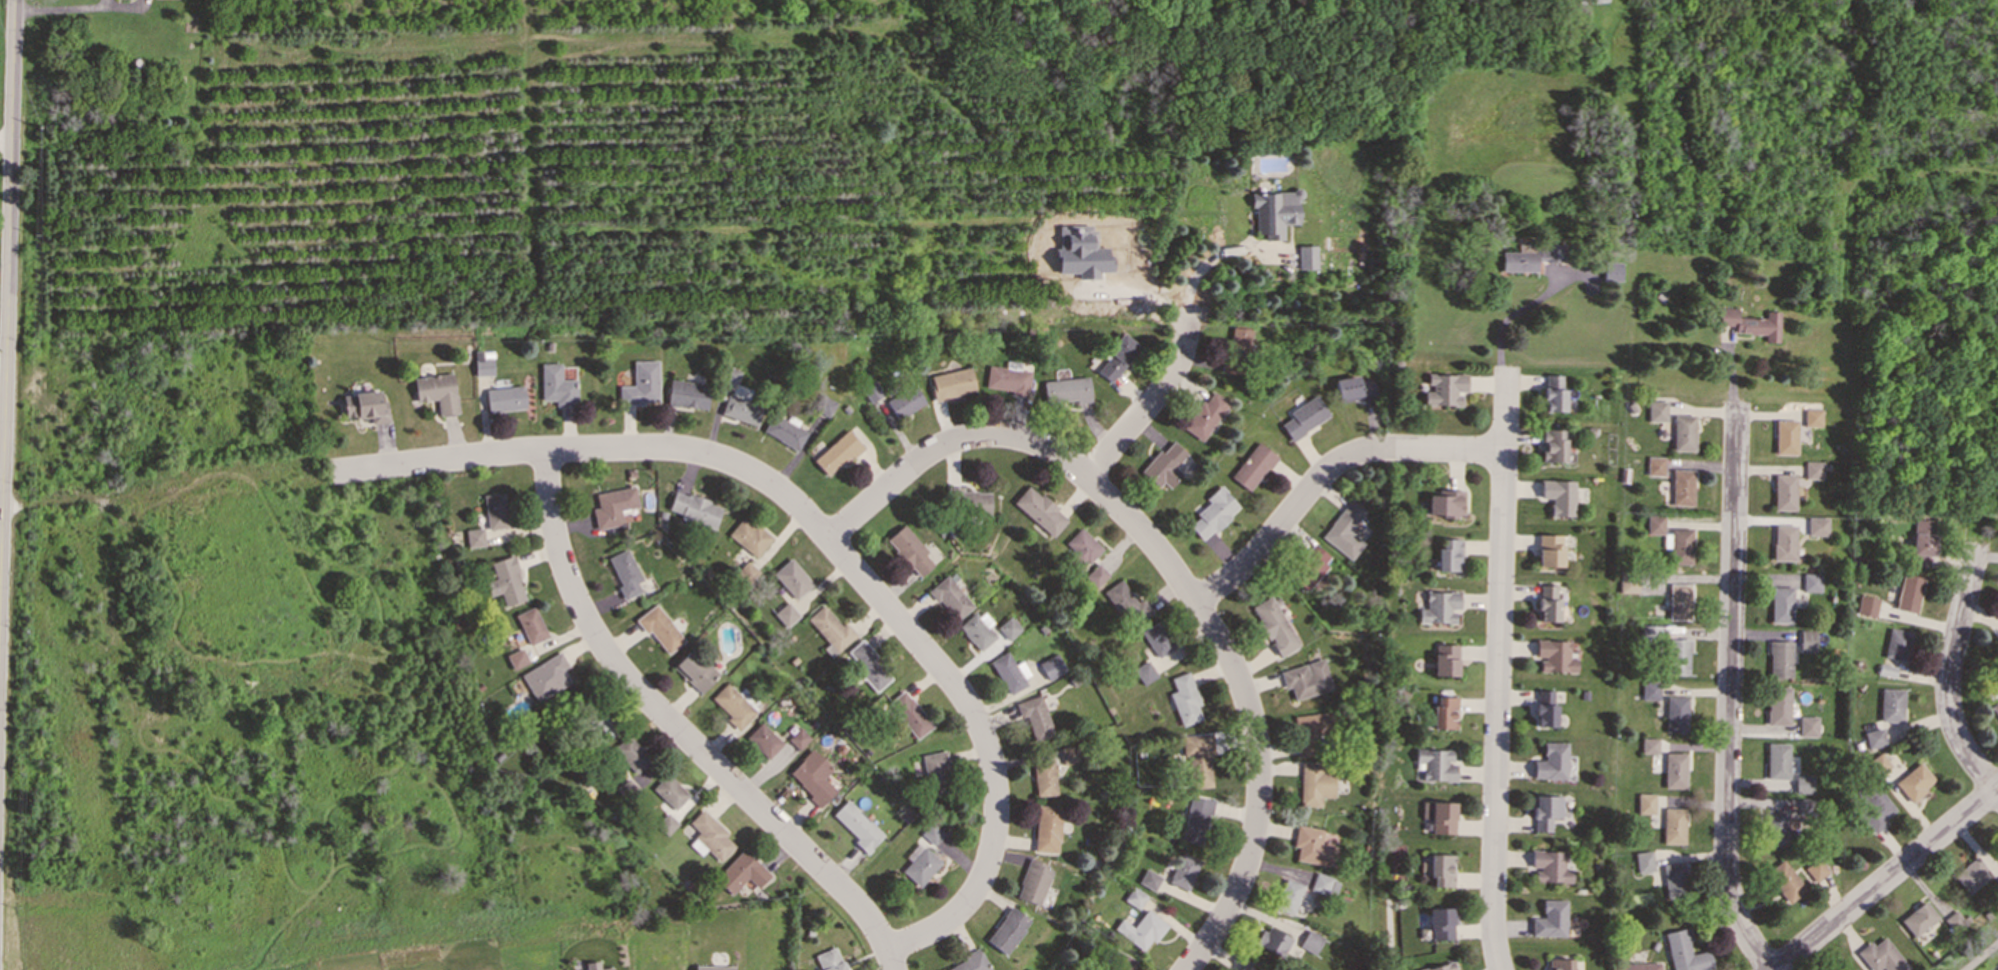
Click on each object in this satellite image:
building: (1594, 1)
road: (67, 8)
road: (6, 140)
building: (1274, 212)
building: (1531, 256)
building: (1307, 257)
road: (1208, 264)
road: (7, 289)
road: (1519, 310)
building: (1750, 323)
building: (1237, 350)
building: (1118, 356)
building: (483, 366)
building: (731, 377)
building: (644, 378)
building: (1008, 379)
building: (952, 383)
building: (557, 385)
building: (1354, 388)
building: (1444, 388)
building: (1066, 390)
building: (437, 391)
building: (872, 391)
building: (1553, 393)
building: (688, 394)
building: (505, 398)
building: (904, 401)
building: (365, 406)
building: (742, 410)
building: (1657, 410)
road: (1140, 414)
building: (1204, 415)
building: (1304, 417)
building: (1812, 417)
building: (784, 431)
building: (1683, 432)
building: (1785, 436)
building: (1552, 445)
building: (837, 453)
building: (1164, 465)
building: (1253, 466)
building: (1655, 466)
building: (1813, 470)
road: (1324, 472)
building: (1682, 487)
building: (1784, 492)
building: (1559, 496)
building: (975, 502)
building: (1444, 503)
building: (613, 506)
building: (695, 510)
building: (1039, 510)
building: (495, 511)
building: (1214, 512)
building: (1655, 524)
building: (1817, 526)
building: (1344, 529)
building: (749, 536)
road: (824, 536)
building: (475, 537)
building: (1784, 542)
building: (1922, 542)
building: (1681, 545)
building: (1083, 546)
building: (1549, 550)
building: (910, 551)
building: (1449, 555)
building: (1309, 567)
building: (625, 573)
road: (1173, 573)
building: (1095, 576)
building: (791, 578)
building: (506, 581)
building: (1811, 581)
building: (1908, 593)
building: (950, 598)
building: (1679, 601)
building: (1127, 603)
building: (1547, 603)
building: (1781, 604)
building: (1867, 605)
building: (1439, 607)
building: (785, 614)
building: (531, 625)
building: (1273, 625)
building: (659, 628)
building: (830, 628)
building: (1008, 628)
building: (978, 629)
building: (1157, 639)
building: (1807, 640)
building: (1897, 644)
building: (1554, 655)
building: (1678, 656)
building: (517, 658)
building: (1780, 658)
building: (1446, 660)
building: (868, 665)
building: (1051, 666)
road: (1498, 669)
building: (695, 670)
building: (1009, 672)
building: (1144, 672)
road: (1947, 673)
building: (546, 677)
building: (1306, 679)
park: (251, 689)
building: (1650, 690)
road: (1729, 692)
building: (1184, 699)
building: (732, 705)
building: (1778, 705)
building: (1891, 705)
building: (1995, 707)
building: (1545, 708)
building: (1445, 712)
building: (1676, 713)
building: (909, 714)
building: (1035, 718)
building: (1808, 726)
building: (602, 728)
road: (679, 731)
building: (1311, 731)
building: (798, 738)
building: (1874, 738)
building: (763, 740)
building: (1649, 746)
building: (631, 754)
building: (1070, 755)
building: (1197, 760)
building: (1777, 760)
building: (1551, 762)
building: (1435, 764)
building: (1879, 764)
building: (1675, 770)
building: (935, 771)
building: (812, 776)
building: (1044, 778)
building: (1914, 781)
building: (1314, 784)
building: (1803, 784)
building: (670, 791)
building: (1646, 803)
building: (1545, 811)
building: (1875, 811)
building: (1439, 816)
building: (1196, 819)
building: (666, 823)
building: (857, 825)
building: (1673, 825)
building: (1776, 827)
building: (1047, 828)
building: (931, 833)
building: (709, 836)
building: (1312, 846)
building: (1644, 861)
building: (920, 866)
building: (1549, 866)
building: (1440, 869)
building: (1816, 869)
building: (1183, 871)
building: (740, 872)
building: (1971, 874)
building: (1673, 876)
road: (1886, 878)
building: (1149, 879)
building: (1785, 880)
building: (1033, 882)
building: (1323, 885)
building: (1288, 896)
building: (1135, 897)
building: (1918, 918)
building: (1550, 919)
building: (1955, 921)
building: (1440, 923)
building: (1141, 929)
building: (1007, 930)
building: (1273, 941)
building: (1310, 942)
building: (1684, 952)
building: (1881, 956)
road: (1982, 956)
building: (829, 960)
building: (971, 962)
building: (1118, 962)
building: (1559, 964)
building: (594, 966)
building: (1634, 966)
building: (712, 967)
building: (1243, 967)
building: (1441, 967)
building: (1997, 969)

